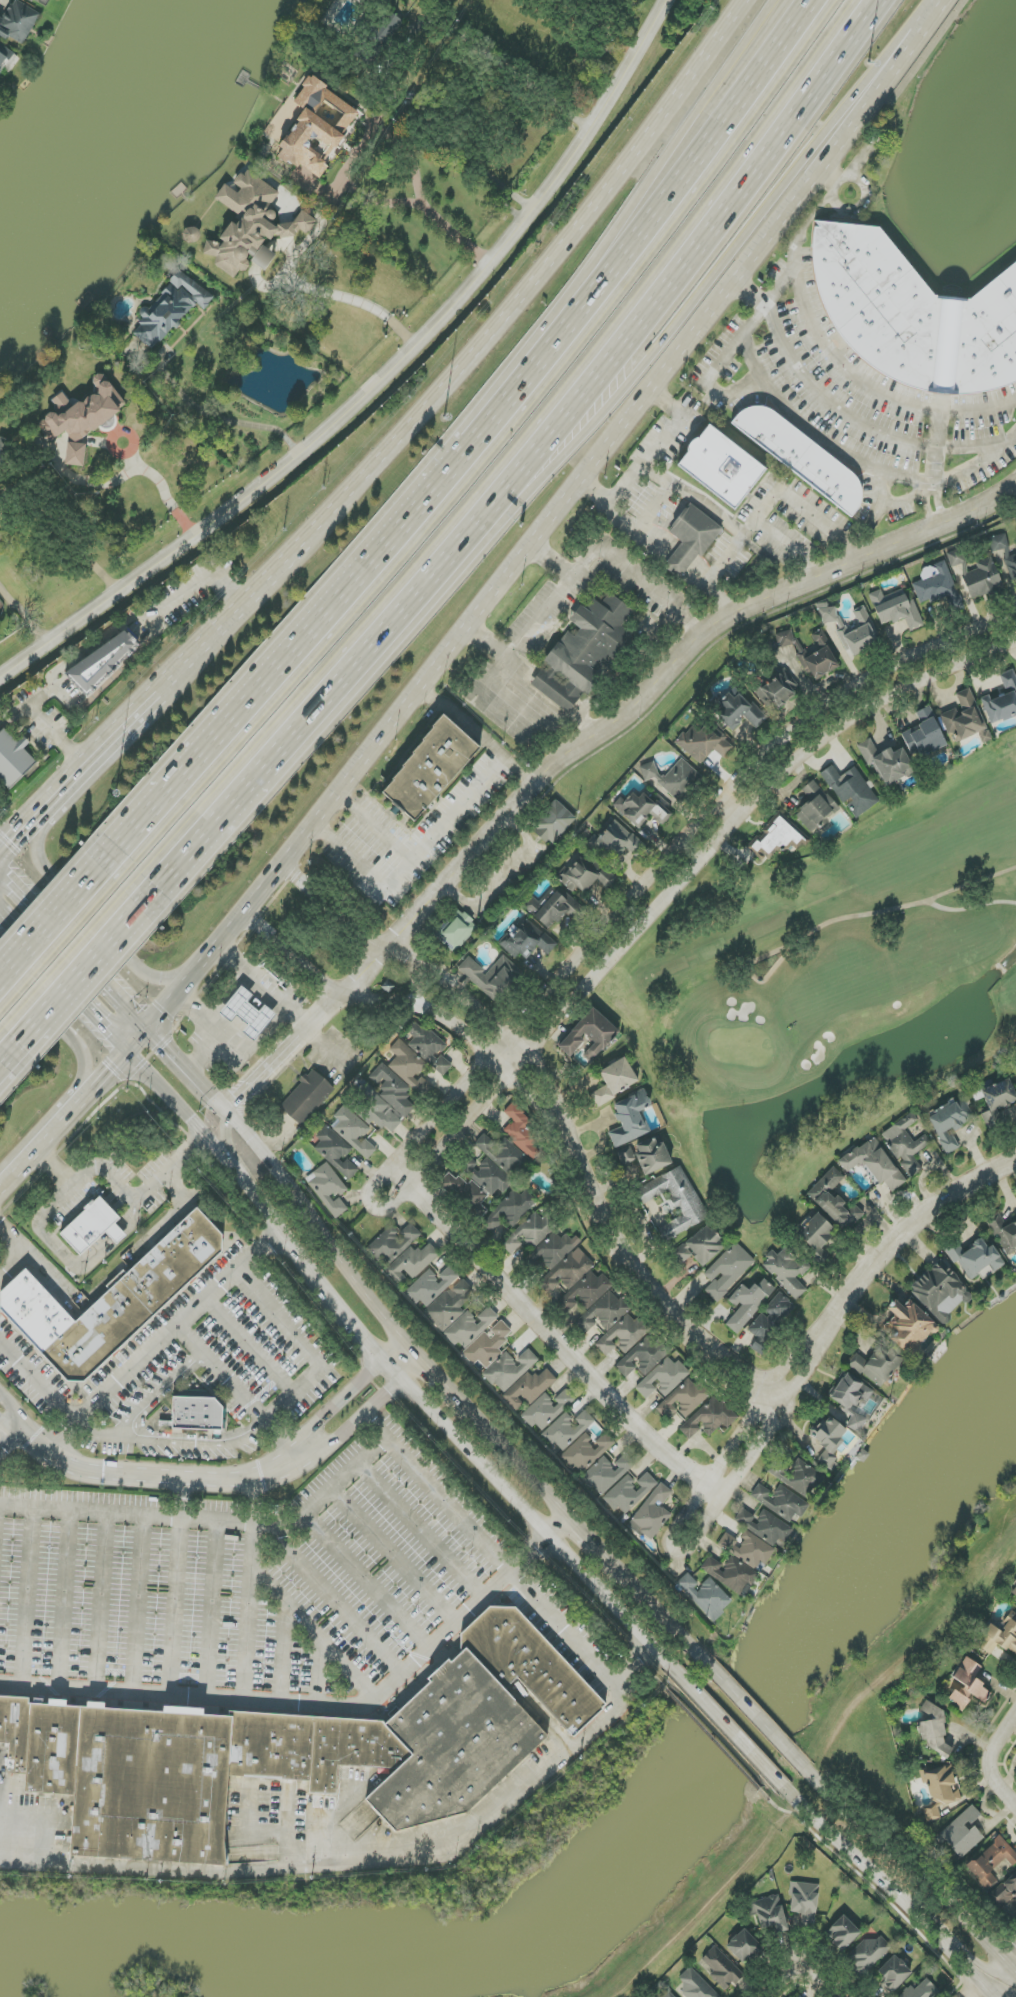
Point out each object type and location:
building: (42, 2)
building: (18, 22)
building: (391, 23)
building: (4, 56)
road: (890, 60)
building: (317, 128)
road: (395, 135)
road: (451, 154)
road: (861, 162)
road: (663, 165)
road: (860, 206)
building: (251, 223)
building: (190, 235)
building: (263, 258)
road: (785, 276)
road: (356, 301)
building: (170, 309)
building: (913, 316)
road: (470, 362)
road: (377, 381)
road: (870, 388)
road: (730, 395)
road: (575, 397)
road: (840, 412)
building: (83, 415)
road: (221, 418)
road: (815, 438)
road: (470, 443)
road: (937, 448)
building: (75, 454)
building: (801, 457)
road: (651, 458)
road: (559, 462)
road: (978, 465)
building: (721, 467)
road: (129, 471)
road: (933, 485)
road: (694, 500)
road: (653, 508)
road: (762, 509)
building: (690, 540)
road: (656, 547)
road: (786, 549)
building: (1004, 554)
building: (955, 558)
road: (553, 562)
building: (980, 579)
road: (504, 580)
building: (938, 586)
building: (895, 609)
road: (24, 612)
building: (827, 615)
road: (687, 623)
road: (142, 625)
building: (859, 633)
building: (785, 639)
road: (488, 643)
building: (582, 653)
building: (820, 656)
building: (102, 660)
road: (492, 678)
building: (776, 690)
road: (649, 694)
building: (1002, 700)
road: (26, 703)
road: (66, 704)
building: (737, 711)
building: (965, 719)
road: (592, 720)
road: (477, 734)
road: (54, 735)
building: (924, 735)
building: (704, 743)
road: (98, 749)
building: (13, 758)
building: (886, 762)
building: (435, 772)
building: (673, 778)
building: (851, 791)
road: (730, 806)
building: (815, 807)
building: (642, 810)
building: (554, 823)
road: (445, 825)
road: (21, 827)
road: (376, 828)
traffic signals: (12, 836)
road: (195, 838)
building: (779, 839)
building: (618, 841)
road: (350, 857)
road: (656, 869)
traffic signals: (12, 874)
building: (587, 875)
road: (666, 896)
road: (36, 902)
building: (552, 908)
road: (50, 918)
road: (94, 925)
building: (456, 931)
road: (25, 938)
building: (528, 941)
road: (75, 975)
building: (491, 976)
road: (451, 982)
road: (111, 988)
road: (267, 988)
park: (829, 988)
road: (421, 1005)
road: (89, 1009)
building: (250, 1015)
gas station: (250, 1015)
road: (63, 1028)
traffic signals: (109, 1030)
road: (218, 1030)
building: (590, 1034)
road: (139, 1041)
traffic signals: (164, 1047)
building: (428, 1047)
road: (291, 1056)
road: (4, 1060)
traffic signals: (111, 1075)
road: (190, 1075)
building: (400, 1079)
building: (615, 1081)
road: (101, 1085)
building: (307, 1098)
building: (997, 1100)
building: (379, 1111)
building: (630, 1118)
building: (950, 1122)
building: (352, 1130)
building: (521, 1131)
building: (905, 1144)
building: (335, 1151)
road: (36, 1155)
building: (646, 1156)
road: (232, 1157)
building: (873, 1164)
building: (496, 1165)
road: (244, 1186)
building: (328, 1189)
road: (123, 1191)
building: (466, 1195)
building: (834, 1200)
building: (675, 1201)
building: (510, 1210)
road: (914, 1223)
building: (93, 1227)
building: (529, 1233)
road: (323, 1234)
building: (1004, 1234)
building: (816, 1236)
building: (393, 1244)
building: (700, 1246)
building: (976, 1259)
building: (411, 1263)
road: (12, 1264)
road: (72, 1265)
building: (727, 1271)
building: (787, 1271)
building: (570, 1273)
road: (106, 1286)
building: (431, 1286)
road: (657, 1292)
building: (115, 1303)
building: (748, 1303)
building: (450, 1305)
building: (771, 1322)
building: (612, 1324)
building: (909, 1326)
building: (470, 1327)
road: (554, 1336)
road: (164, 1339)
road: (251, 1345)
road: (372, 1346)
building: (487, 1346)
road: (401, 1359)
building: (876, 1364)
building: (653, 1368)
building: (509, 1370)
road: (441, 1382)
road: (36, 1386)
building: (528, 1389)
road: (294, 1391)
road: (383, 1396)
building: (685, 1398)
building: (852, 1400)
road: (341, 1401)
road: (15, 1408)
building: (547, 1410)
building: (199, 1414)
building: (709, 1418)
road: (12, 1424)
road: (743, 1428)
building: (566, 1430)
road: (102, 1434)
road: (144, 1438)
road: (12, 1439)
road: (336, 1439)
road: (762, 1440)
building: (828, 1440)
road: (470, 1453)
building: (585, 1453)
road: (521, 1467)
building: (606, 1474)
road: (161, 1477)
building: (800, 1478)
building: (629, 1492)
road: (436, 1495)
road: (184, 1499)
building: (780, 1501)
building: (652, 1514)
road: (206, 1519)
building: (767, 1528)
road: (560, 1529)
road: (421, 1531)
road: (594, 1544)
building: (747, 1549)
road: (530, 1556)
road: (393, 1557)
building: (730, 1574)
road: (365, 1582)
road: (498, 1585)
building: (1014, 1594)
building: (705, 1596)
road: (28, 1597)
road: (64, 1599)
road: (98, 1601)
road: (331, 1602)
road: (610, 1603)
road: (138, 1604)
road: (176, 1607)
road: (210, 1609)
road: (655, 1609)
road: (250, 1612)
road: (313, 1635)
road: (568, 1635)
building: (998, 1636)
road: (284, 1655)
building: (530, 1665)
road: (320, 1675)
building: (967, 1684)
road: (263, 1703)
road: (748, 1709)
road: (540, 1718)
road: (728, 1730)
building: (15, 1731)
building: (934, 1731)
building: (453, 1745)
building: (52, 1748)
building: (309, 1748)
road: (993, 1764)
building: (151, 1785)
building: (940, 1790)
building: (961, 1833)
road: (371, 1851)
building: (991, 1862)
road: (910, 1872)
road: (878, 1887)
building: (1005, 1896)
building: (804, 1902)
building: (769, 1914)
building: (842, 1933)
building: (744, 1946)
building: (870, 1952)
road: (802, 1953)
road: (1008, 1953)
road: (968, 1955)
building: (722, 1969)
building: (893, 1973)
building: (694, 1984)
road: (990, 1989)
building: (921, 1990)
road: (965, 1990)
road: (978, 1990)
building: (668, 1995)

